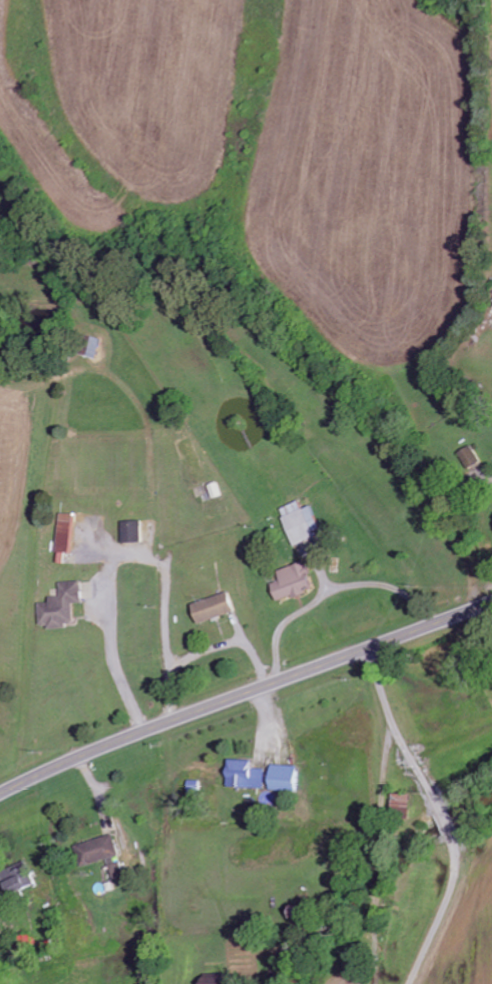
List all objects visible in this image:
building: (473, 457)
building: (197, 479)
building: (304, 521)
building: (133, 530)
building: (67, 534)
building: (298, 580)
building: (66, 605)
building: (218, 606)
road: (243, 696)
building: (248, 773)
building: (288, 776)
road: (443, 814)
building: (101, 849)

